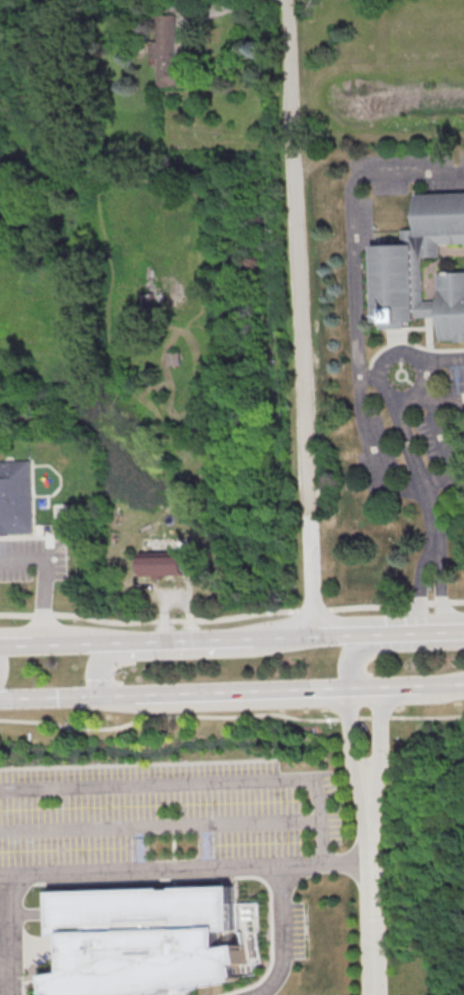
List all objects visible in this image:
road: (214, 5)
building: (170, 54)
parking lot: (394, 184)
road: (299, 257)
building: (419, 272)
road: (354, 301)
road: (438, 359)
road: (414, 361)
road: (368, 375)
parking lot: (455, 377)
road: (444, 404)
road: (443, 446)
road: (414, 463)
building: (17, 498)
parking lot: (31, 559)
building: (165, 562)
road: (312, 574)
road: (44, 577)
road: (442, 586)
road: (420, 587)
road: (232, 616)
road: (414, 634)
road: (340, 636)
road: (286, 637)
road: (194, 639)
road: (88, 641)
road: (22, 642)
road: (348, 659)
road: (96, 665)
road: (454, 684)
road: (283, 690)
road: (61, 695)
traffic signals: (122, 695)
road: (231, 715)
road: (379, 739)
road: (351, 740)
road: (199, 779)
road: (160, 825)
road: (346, 862)
road: (161, 867)
road: (371, 891)
road: (7, 934)
road: (282, 936)
building: (154, 941)

